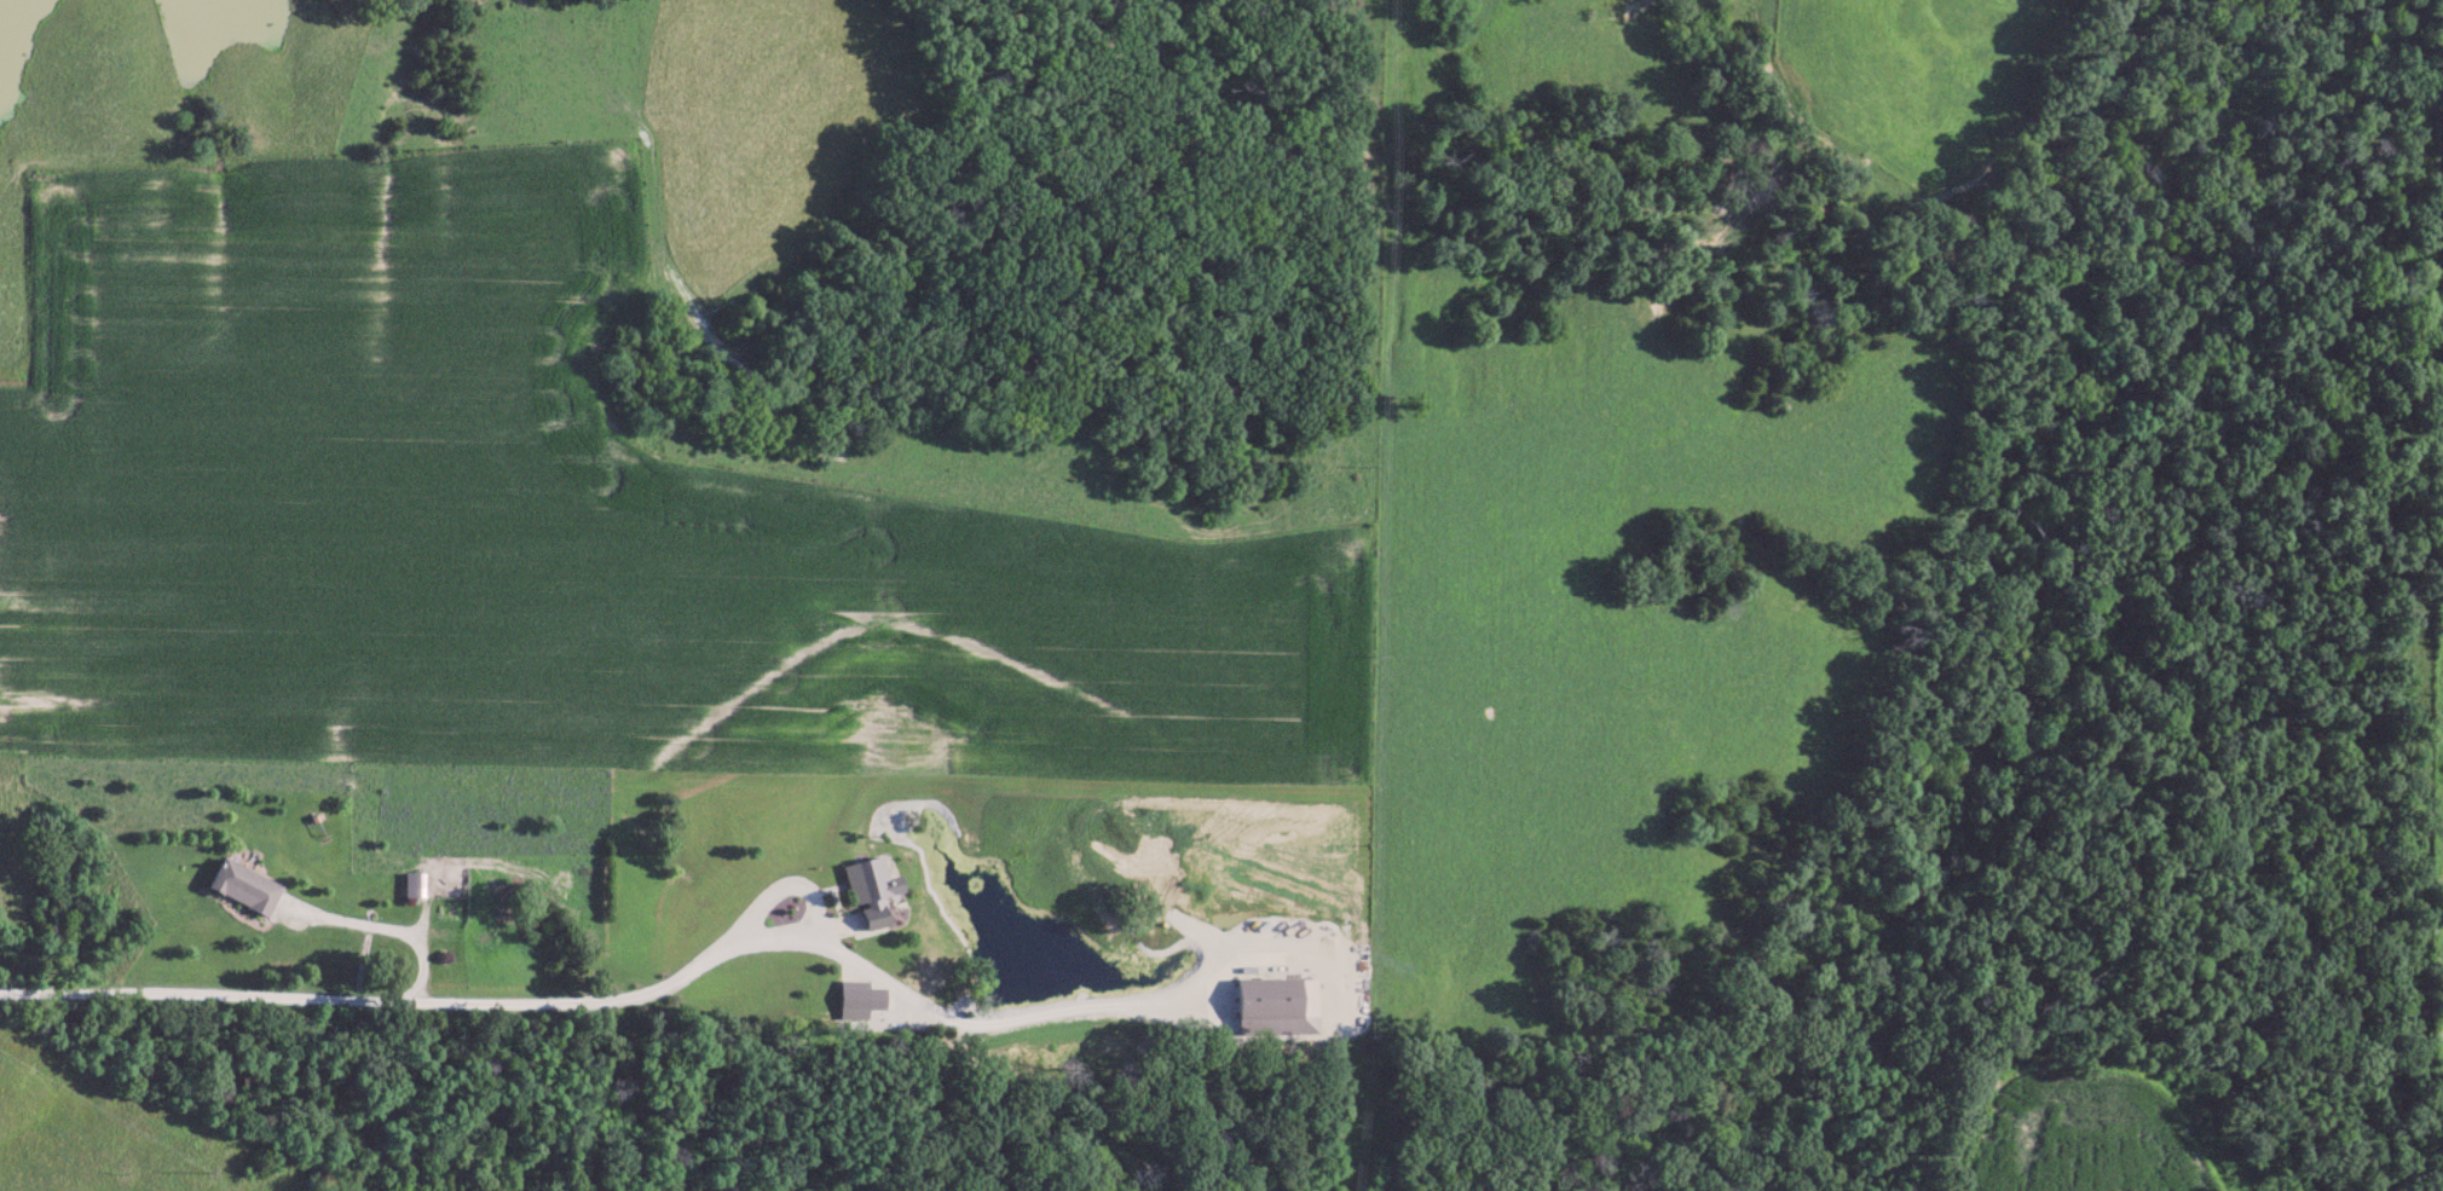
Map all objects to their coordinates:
building: (412, 881)
building: (243, 884)
building: (867, 886)
road: (432, 989)
building: (856, 996)
building: (1275, 1002)

